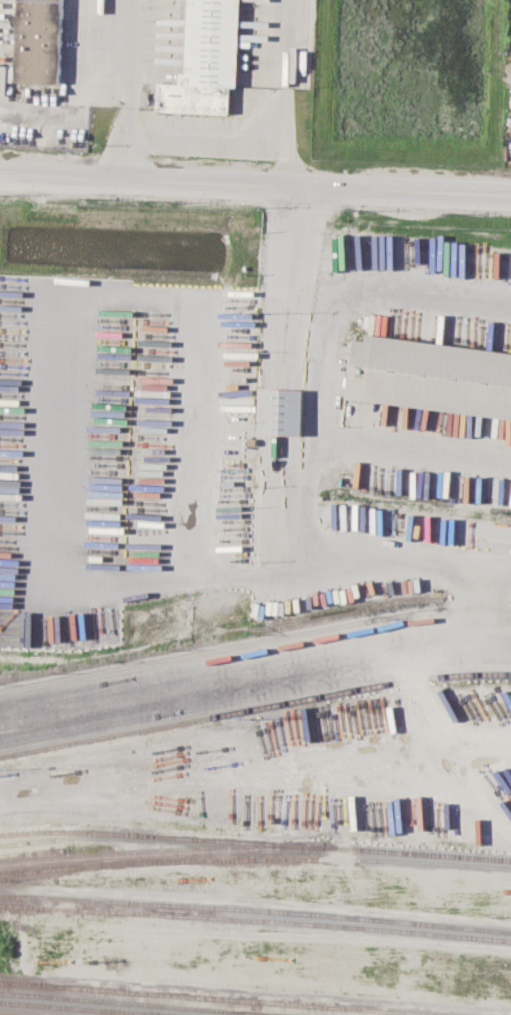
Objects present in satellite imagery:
building: (38, 41)
road: (281, 43)
road: (128, 52)
building: (205, 59)
road: (206, 131)
road: (286, 136)
road: (124, 142)
road: (255, 185)
building: (51, 253)
building: (253, 264)
road: (278, 286)
road: (300, 287)
building: (40, 333)
road: (324, 351)
building: (431, 374)
building: (121, 386)
road: (270, 410)
building: (280, 410)
road: (291, 411)
building: (35, 439)
road: (413, 446)
road: (291, 480)
road: (273, 504)
road: (199, 544)
road: (477, 601)
building: (52, 611)
railway: (254, 640)
road: (254, 674)
railway: (254, 707)
railway: (27, 841)
railway: (255, 842)
railway: (56, 848)
railway: (160, 851)
railway: (255, 858)
railway: (255, 912)
railway: (255, 922)
railway: (225, 998)
railway: (151, 1003)
railway: (87, 1008)
railway: (7, 1014)

